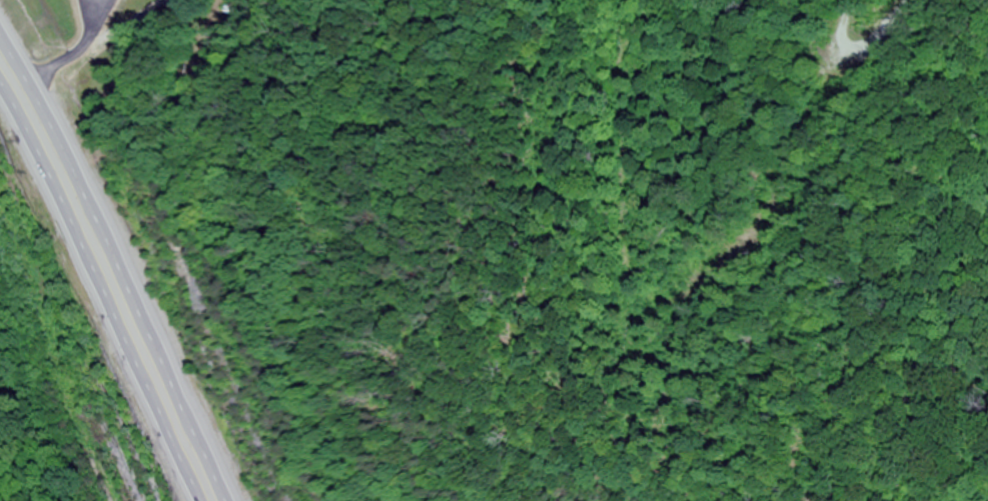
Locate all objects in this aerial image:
road: (118, 262)
road: (98, 295)

